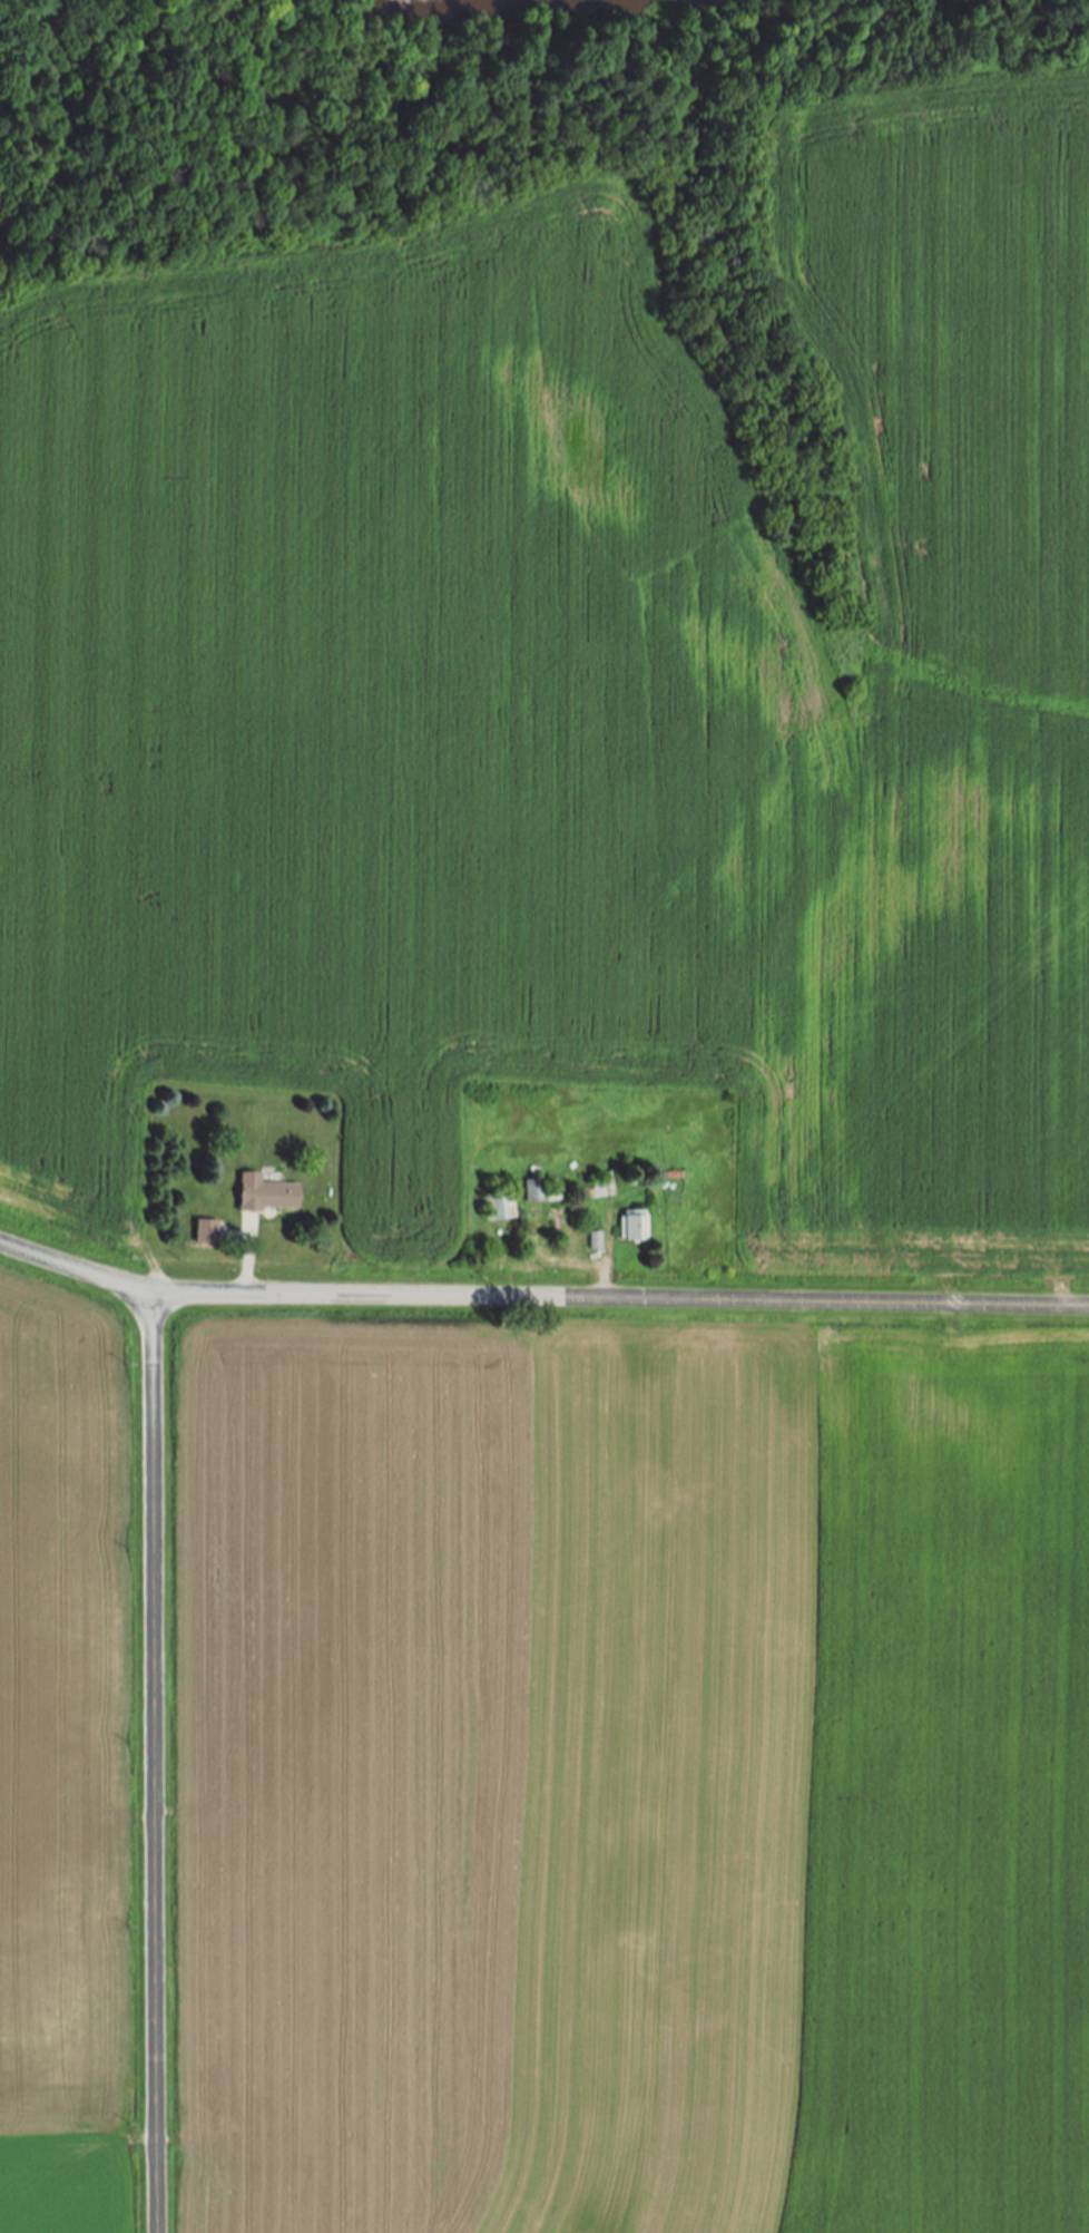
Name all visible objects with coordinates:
building: (267, 1194)
building: (634, 1228)
building: (207, 1231)
building: (595, 1241)
road: (244, 1261)
road: (606, 1277)
road: (540, 1297)
road: (150, 1763)

